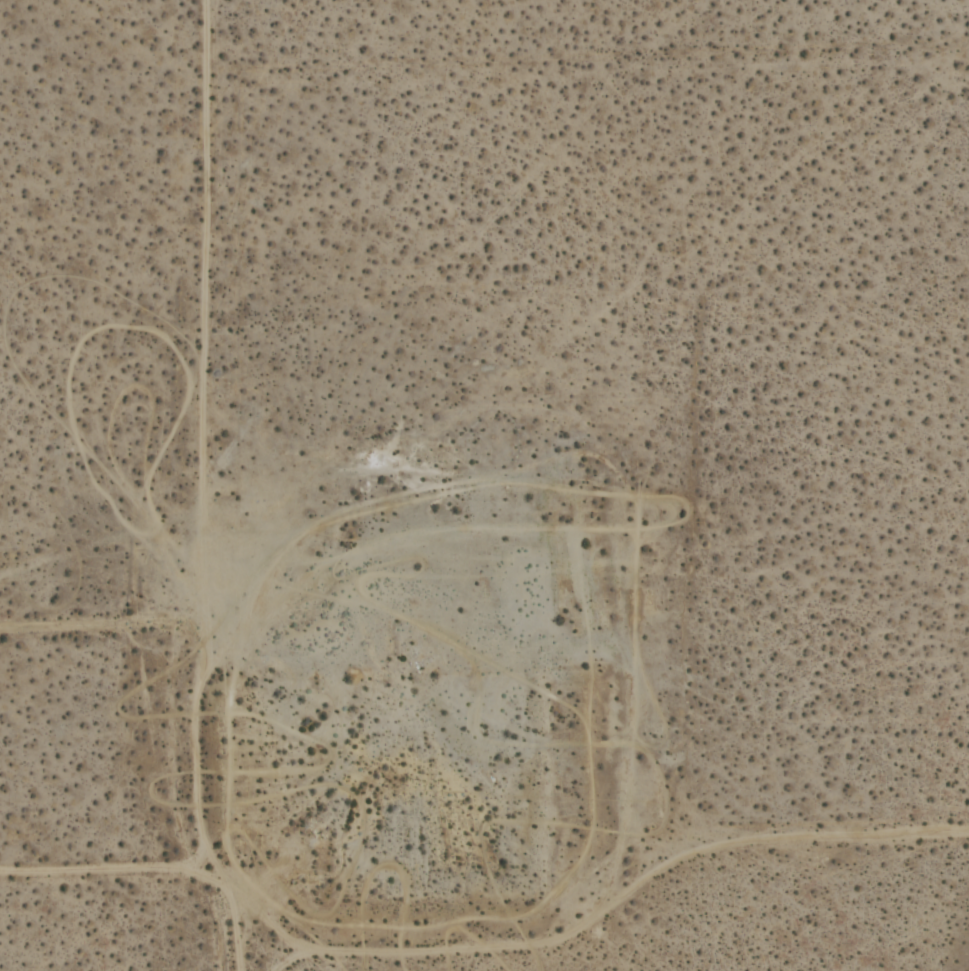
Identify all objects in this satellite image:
road: (198, 489)
road: (485, 949)

